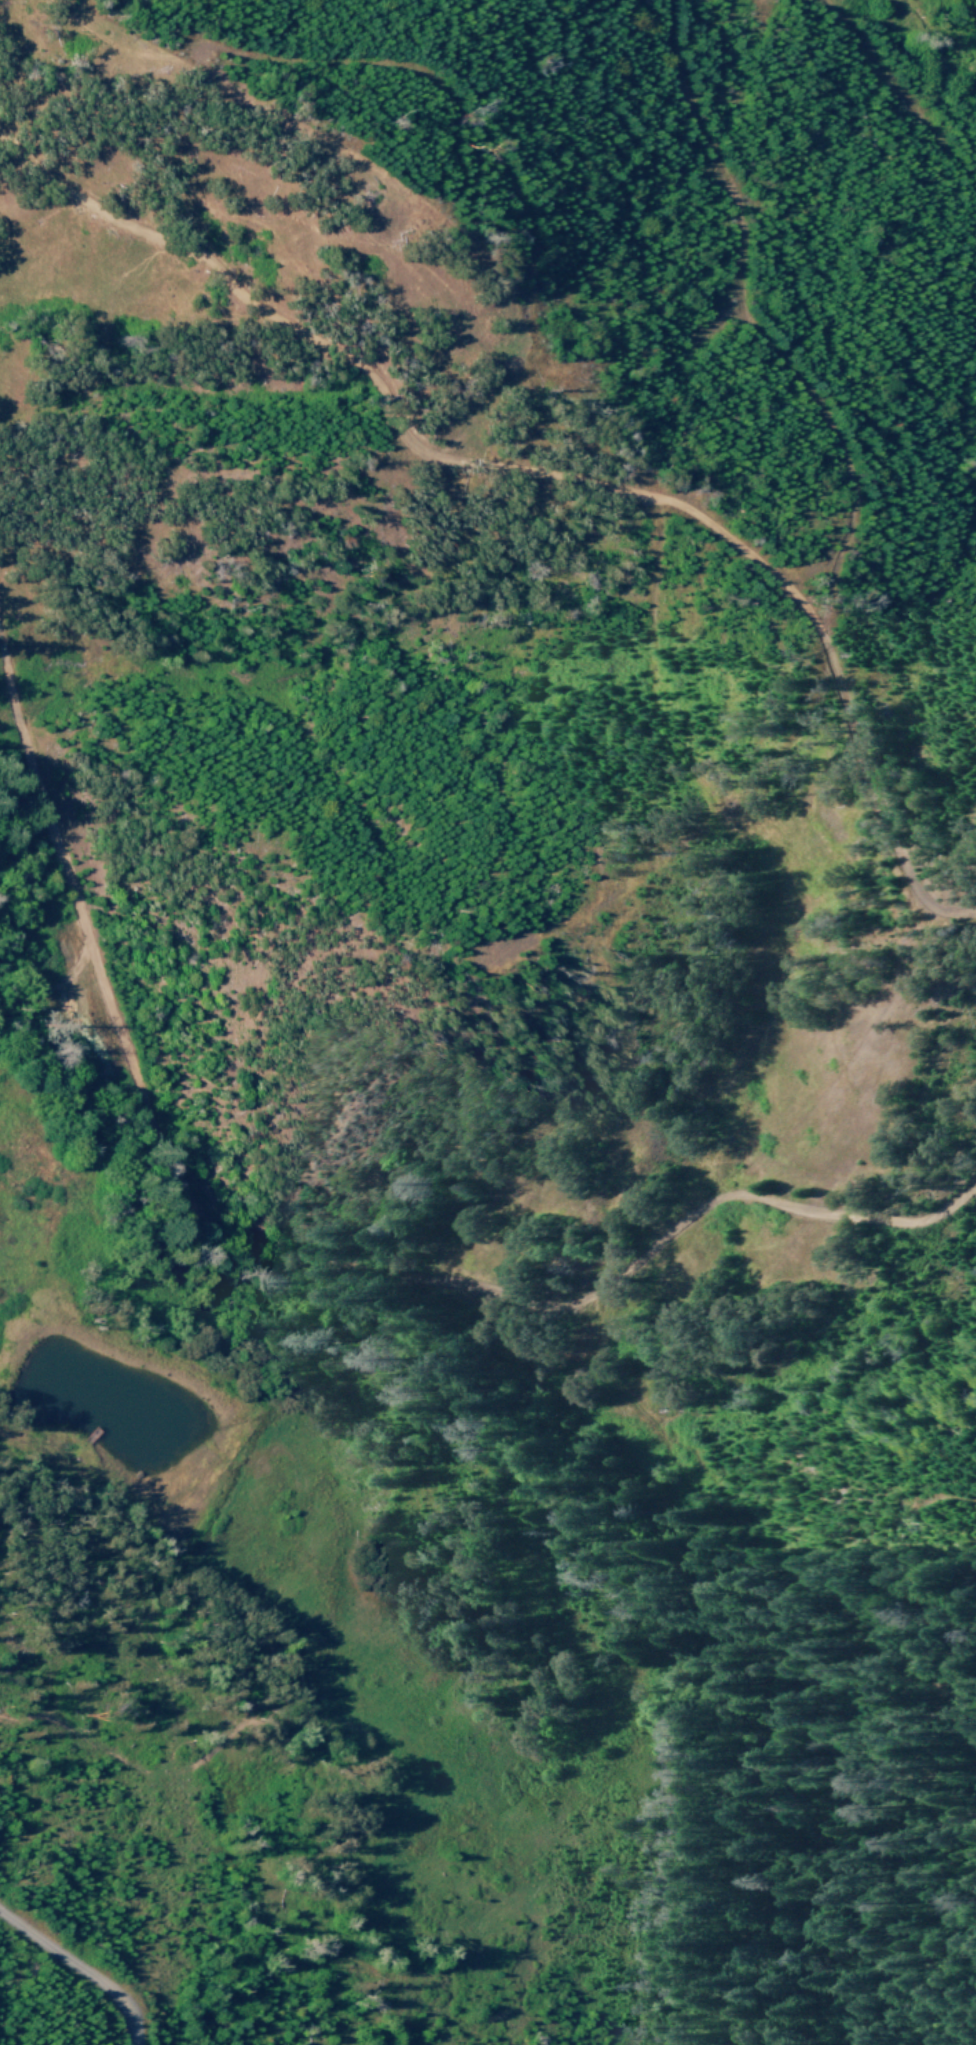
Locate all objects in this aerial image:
road: (78, 1971)

